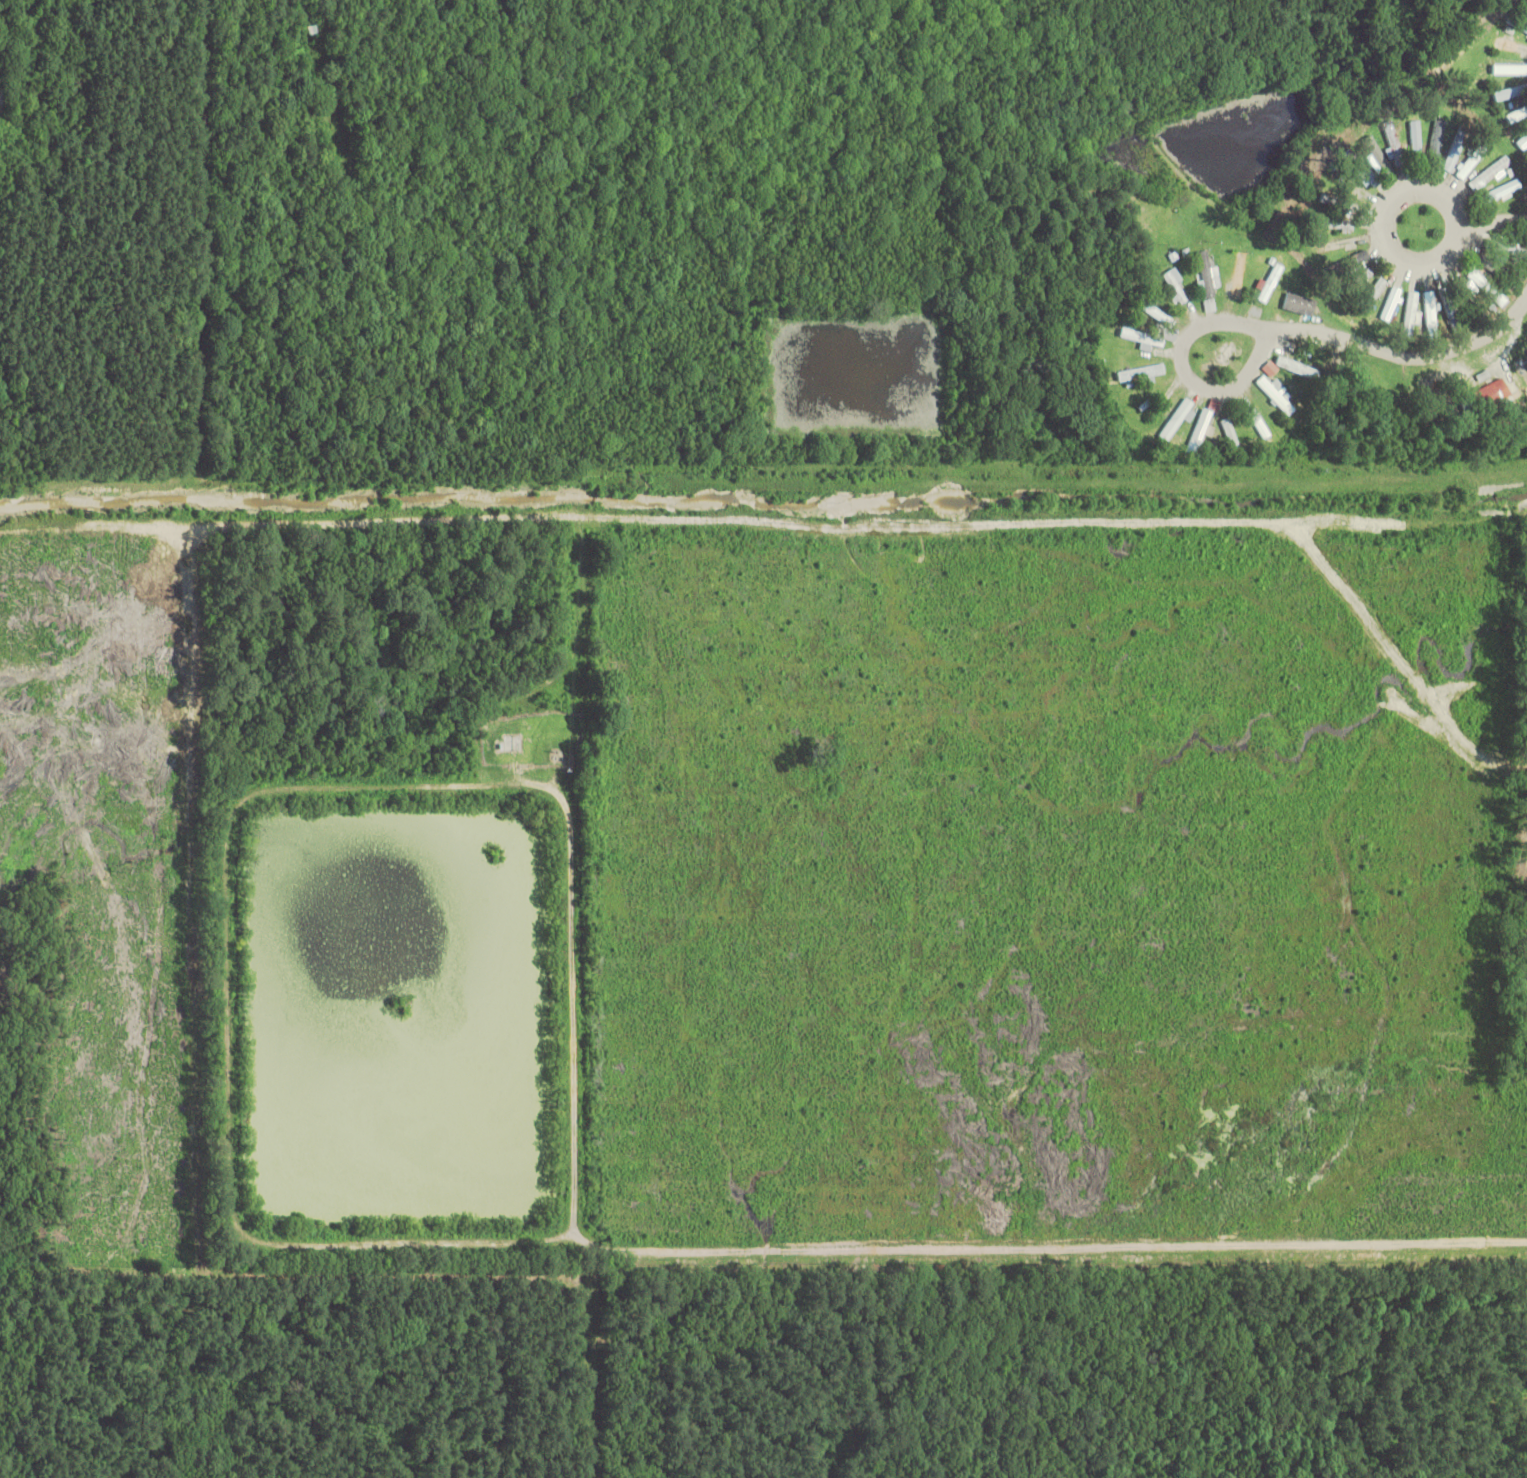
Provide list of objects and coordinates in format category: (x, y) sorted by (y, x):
building: (1518, 22)
building: (1511, 46)
building: (1510, 69)
building: (1507, 94)
building: (1517, 116)
building: (1415, 141)
building: (1523, 141)
building: (1438, 142)
building: (1455, 150)
building: (1396, 152)
building: (1378, 156)
building: (1472, 161)
building: (1365, 172)
building: (1491, 173)
building: (1350, 182)
building: (1504, 190)
building: (1324, 199)
building: (1337, 223)
building: (1340, 244)
road: (1497, 251)
road: (1406, 260)
building: (1351, 263)
building: (1495, 266)
building: (1241, 273)
building: (1209, 276)
building: (1361, 279)
building: (1271, 283)
building: (1483, 283)
building: (1458, 286)
building: (1176, 287)
building: (1391, 303)
building: (1300, 304)
building: (1210, 306)
building: (1156, 312)
building: (1411, 313)
building: (1431, 314)
road: (1408, 362)
building: (1297, 367)
building: (1141, 373)
road: (1197, 378)
building: (1276, 394)
building: (1493, 394)
building: (1177, 420)
building: (1259, 423)
building: (1229, 430)
building: (1199, 431)

